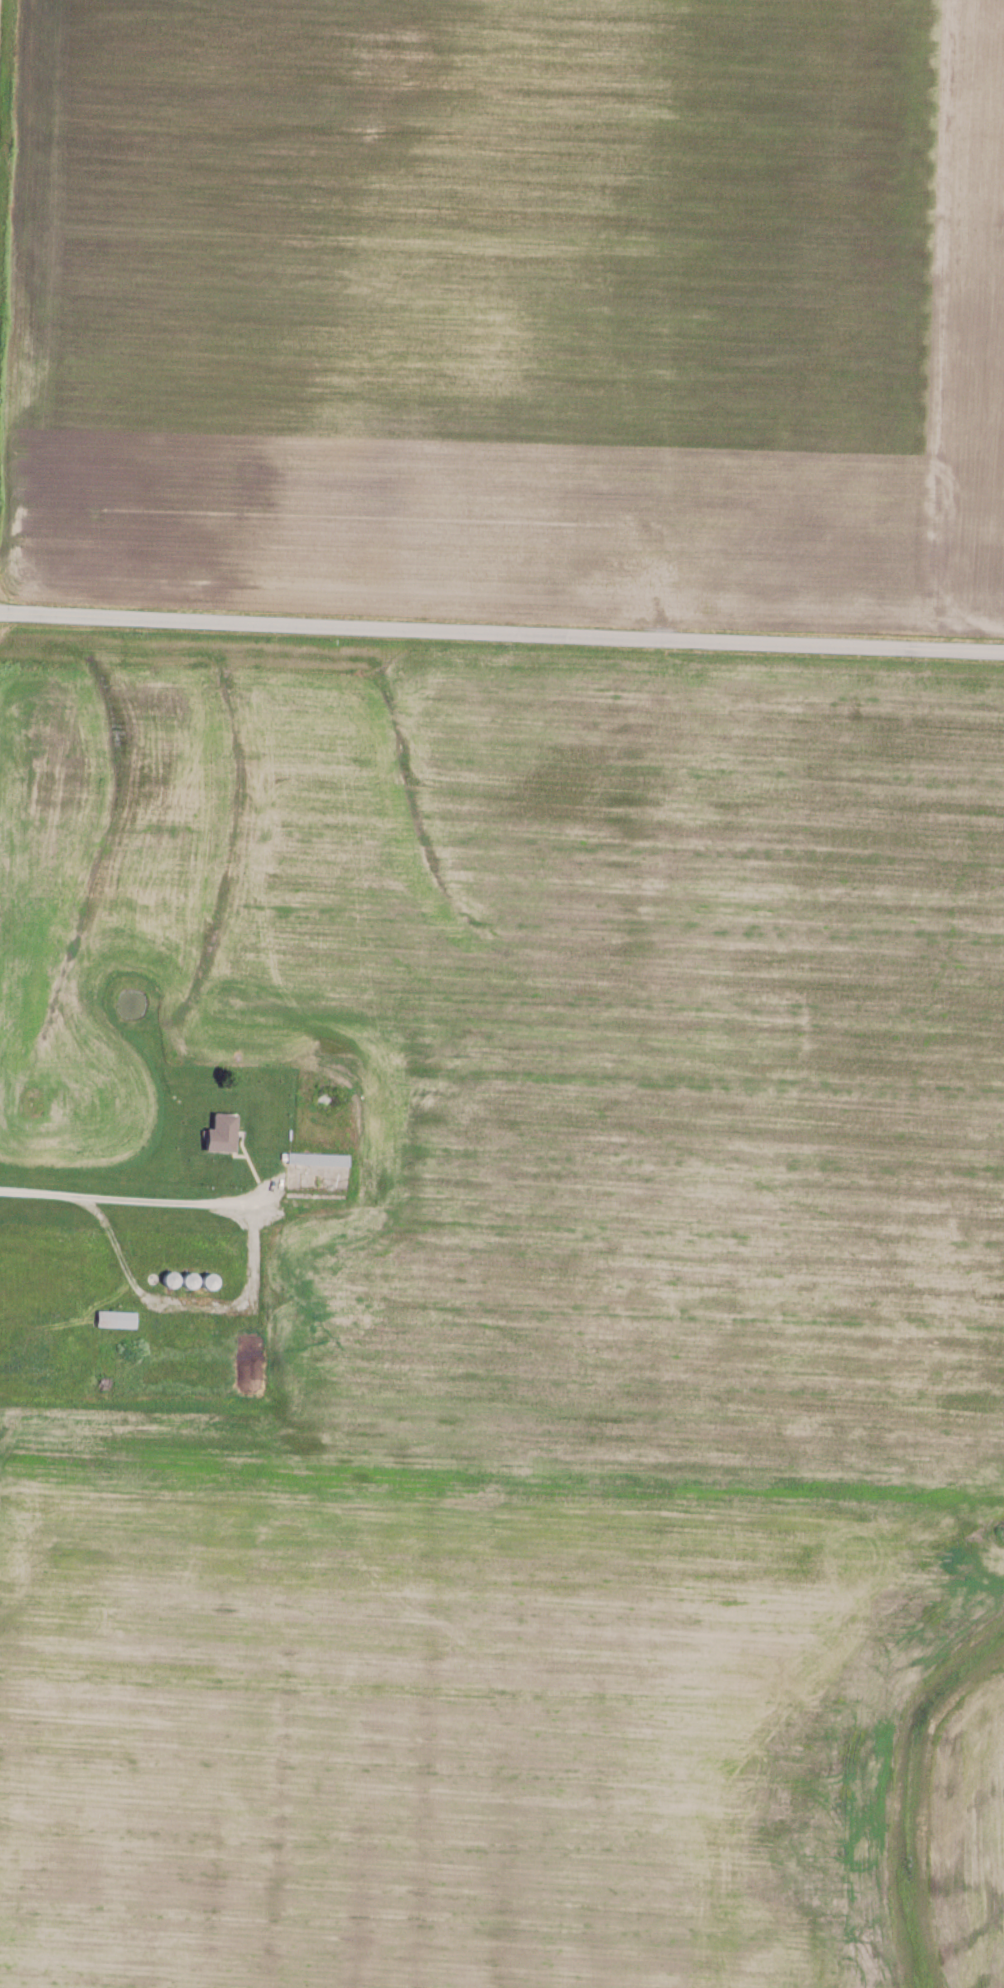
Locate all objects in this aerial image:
road: (502, 630)
building: (224, 1130)
building: (318, 1156)
road: (40, 1194)
road: (249, 1287)
building: (117, 1316)

